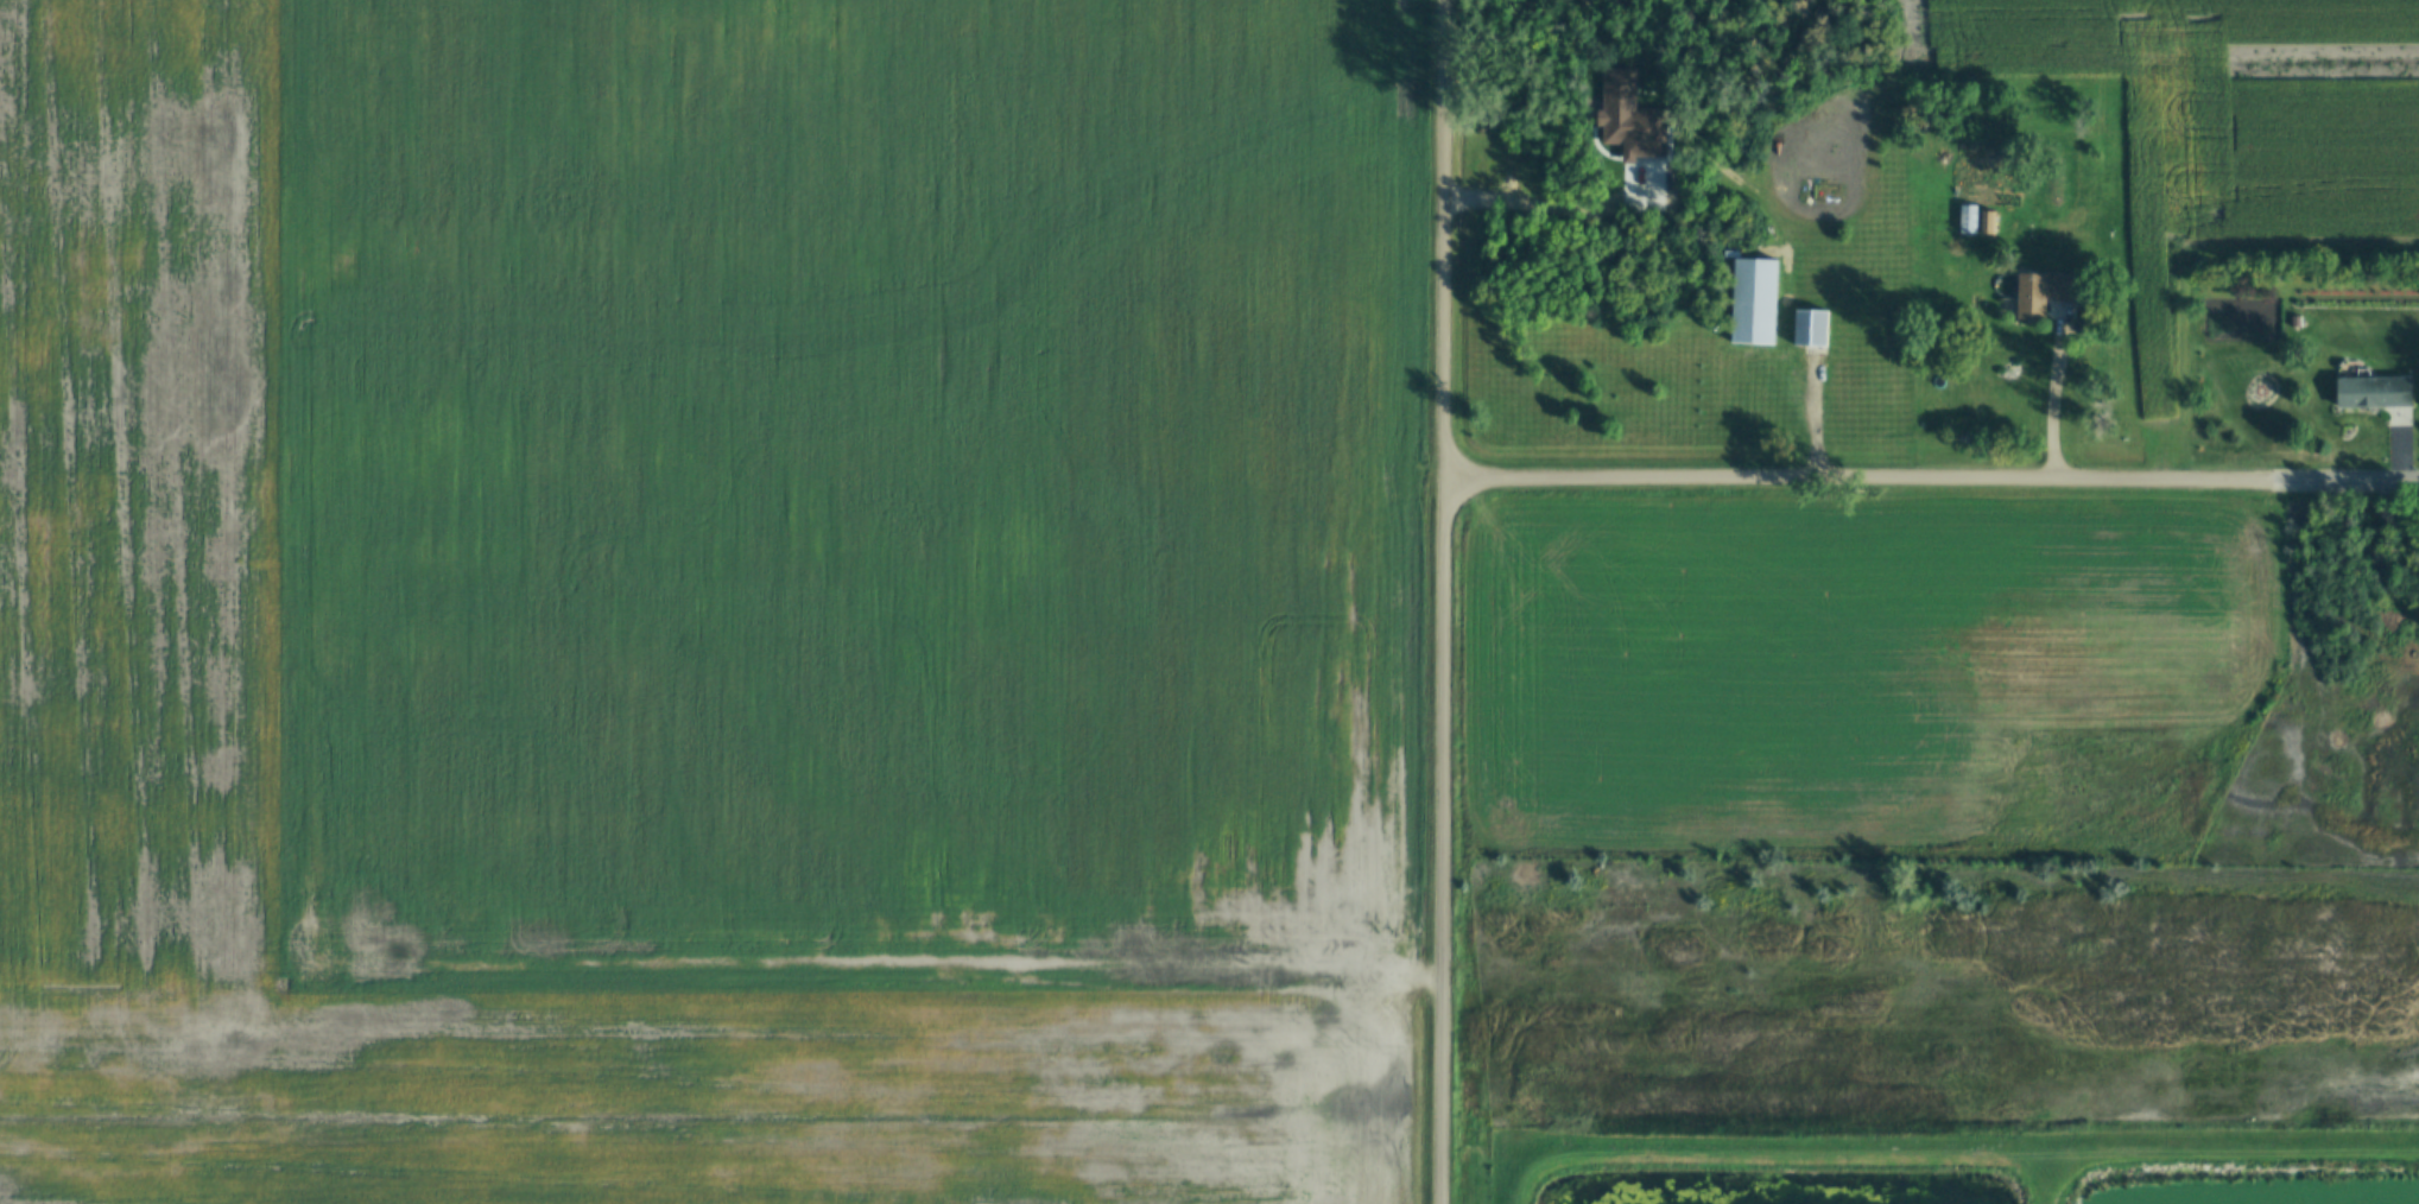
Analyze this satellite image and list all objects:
building: (1990, 223)
building: (2043, 294)
building: (1755, 303)
building: (2295, 322)
building: (1812, 328)
building: (2376, 392)
road: (2052, 403)
road: (1856, 480)
road: (2345, 482)
road: (1449, 601)

